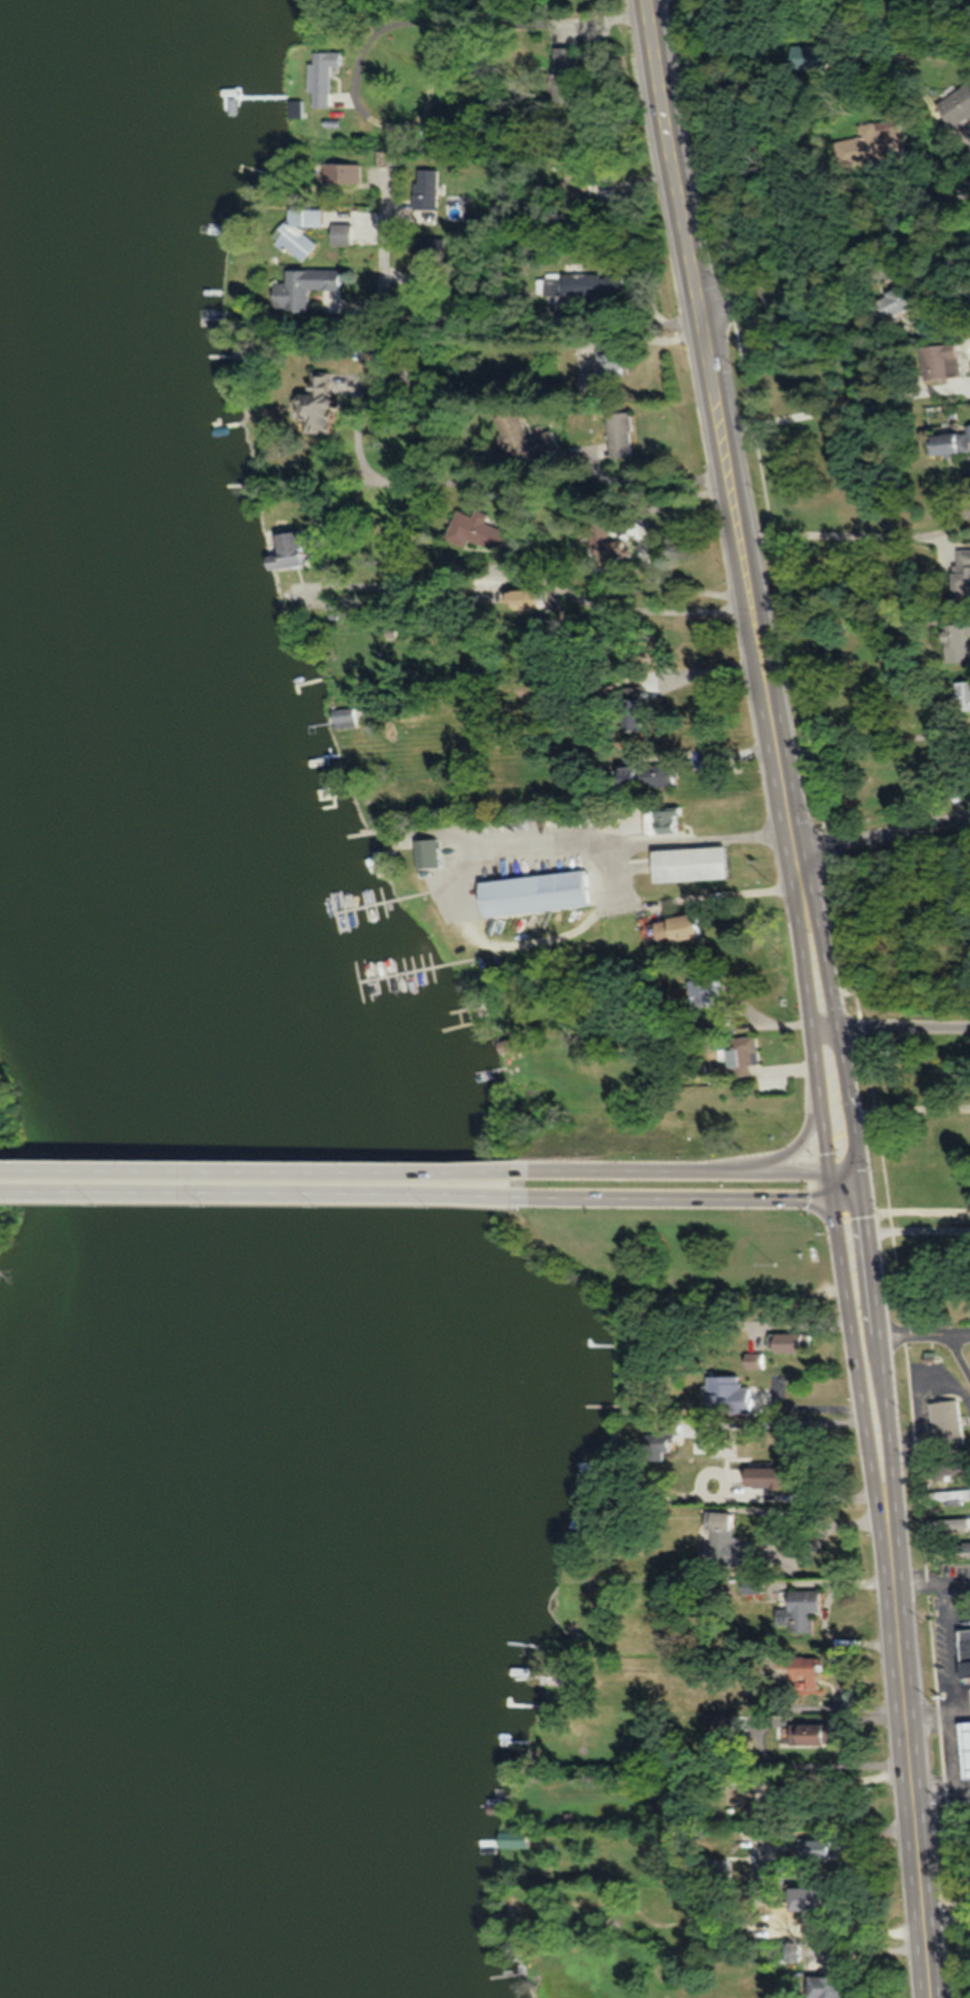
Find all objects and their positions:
road: (388, 19)
building: (570, 67)
building: (327, 75)
building: (954, 104)
building: (344, 172)
building: (428, 188)
building: (301, 231)
building: (346, 233)
building: (433, 259)
road: (841, 264)
building: (597, 284)
building: (307, 286)
road: (516, 301)
building: (895, 303)
building: (942, 361)
building: (619, 363)
building: (325, 403)
building: (625, 434)
building: (526, 437)
building: (949, 443)
road: (730, 469)
road: (507, 482)
building: (480, 531)
road: (859, 533)
building: (294, 549)
building: (615, 550)
building: (962, 574)
road: (591, 602)
road: (859, 625)
building: (957, 642)
building: (962, 696)
building: (654, 776)
road: (884, 833)
building: (693, 854)
building: (540, 893)
building: (684, 929)
building: (715, 991)
river: (158, 996)
road: (903, 1029)
road: (819, 1055)
building: (736, 1056)
road: (840, 1060)
road: (772, 1156)
road: (263, 1170)
road: (678, 1172)
traffic signals: (830, 1172)
road: (846, 1176)
road: (832, 1185)
traffic signals: (862, 1185)
road: (263, 1192)
road: (848, 1192)
road: (680, 1198)
traffic signals: (834, 1198)
road: (923, 1326)
road: (958, 1346)
building: (752, 1360)
road: (883, 1380)
road: (859, 1387)
building: (727, 1394)
building: (945, 1422)
building: (656, 1444)
building: (942, 1469)
building: (762, 1476)
building: (945, 1495)
building: (723, 1542)
building: (951, 1546)
road: (958, 1572)
road: (949, 1602)
building: (798, 1609)
building: (964, 1652)
building: (801, 1672)
building: (720, 1722)
road: (948, 1727)
building: (802, 1733)
building: (966, 1736)
road: (913, 1786)
road: (941, 1787)
road: (838, 1831)
building: (817, 1849)
building: (713, 1871)
building: (771, 1878)
building: (817, 1898)
building: (791, 1951)
building: (821, 1986)

